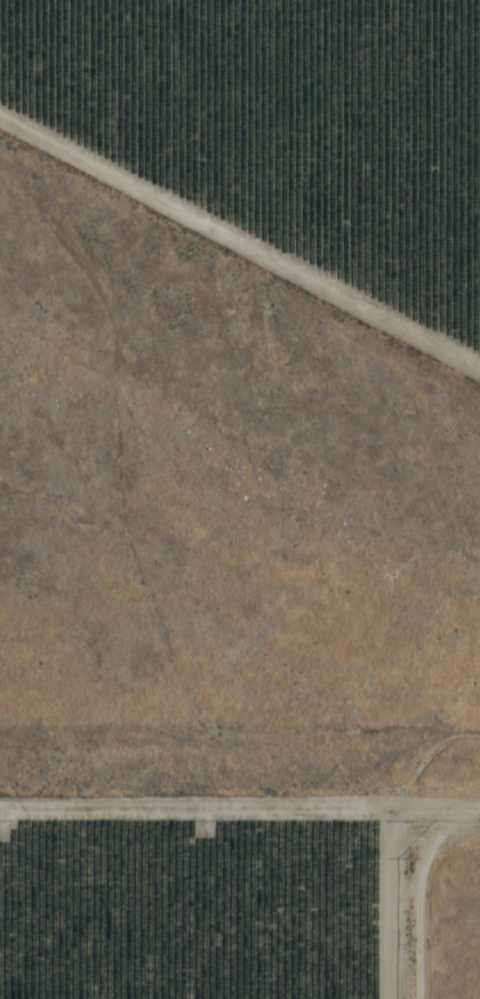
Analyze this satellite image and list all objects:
crop: (286, 122)
road: (242, 242)
crop: (189, 902)

